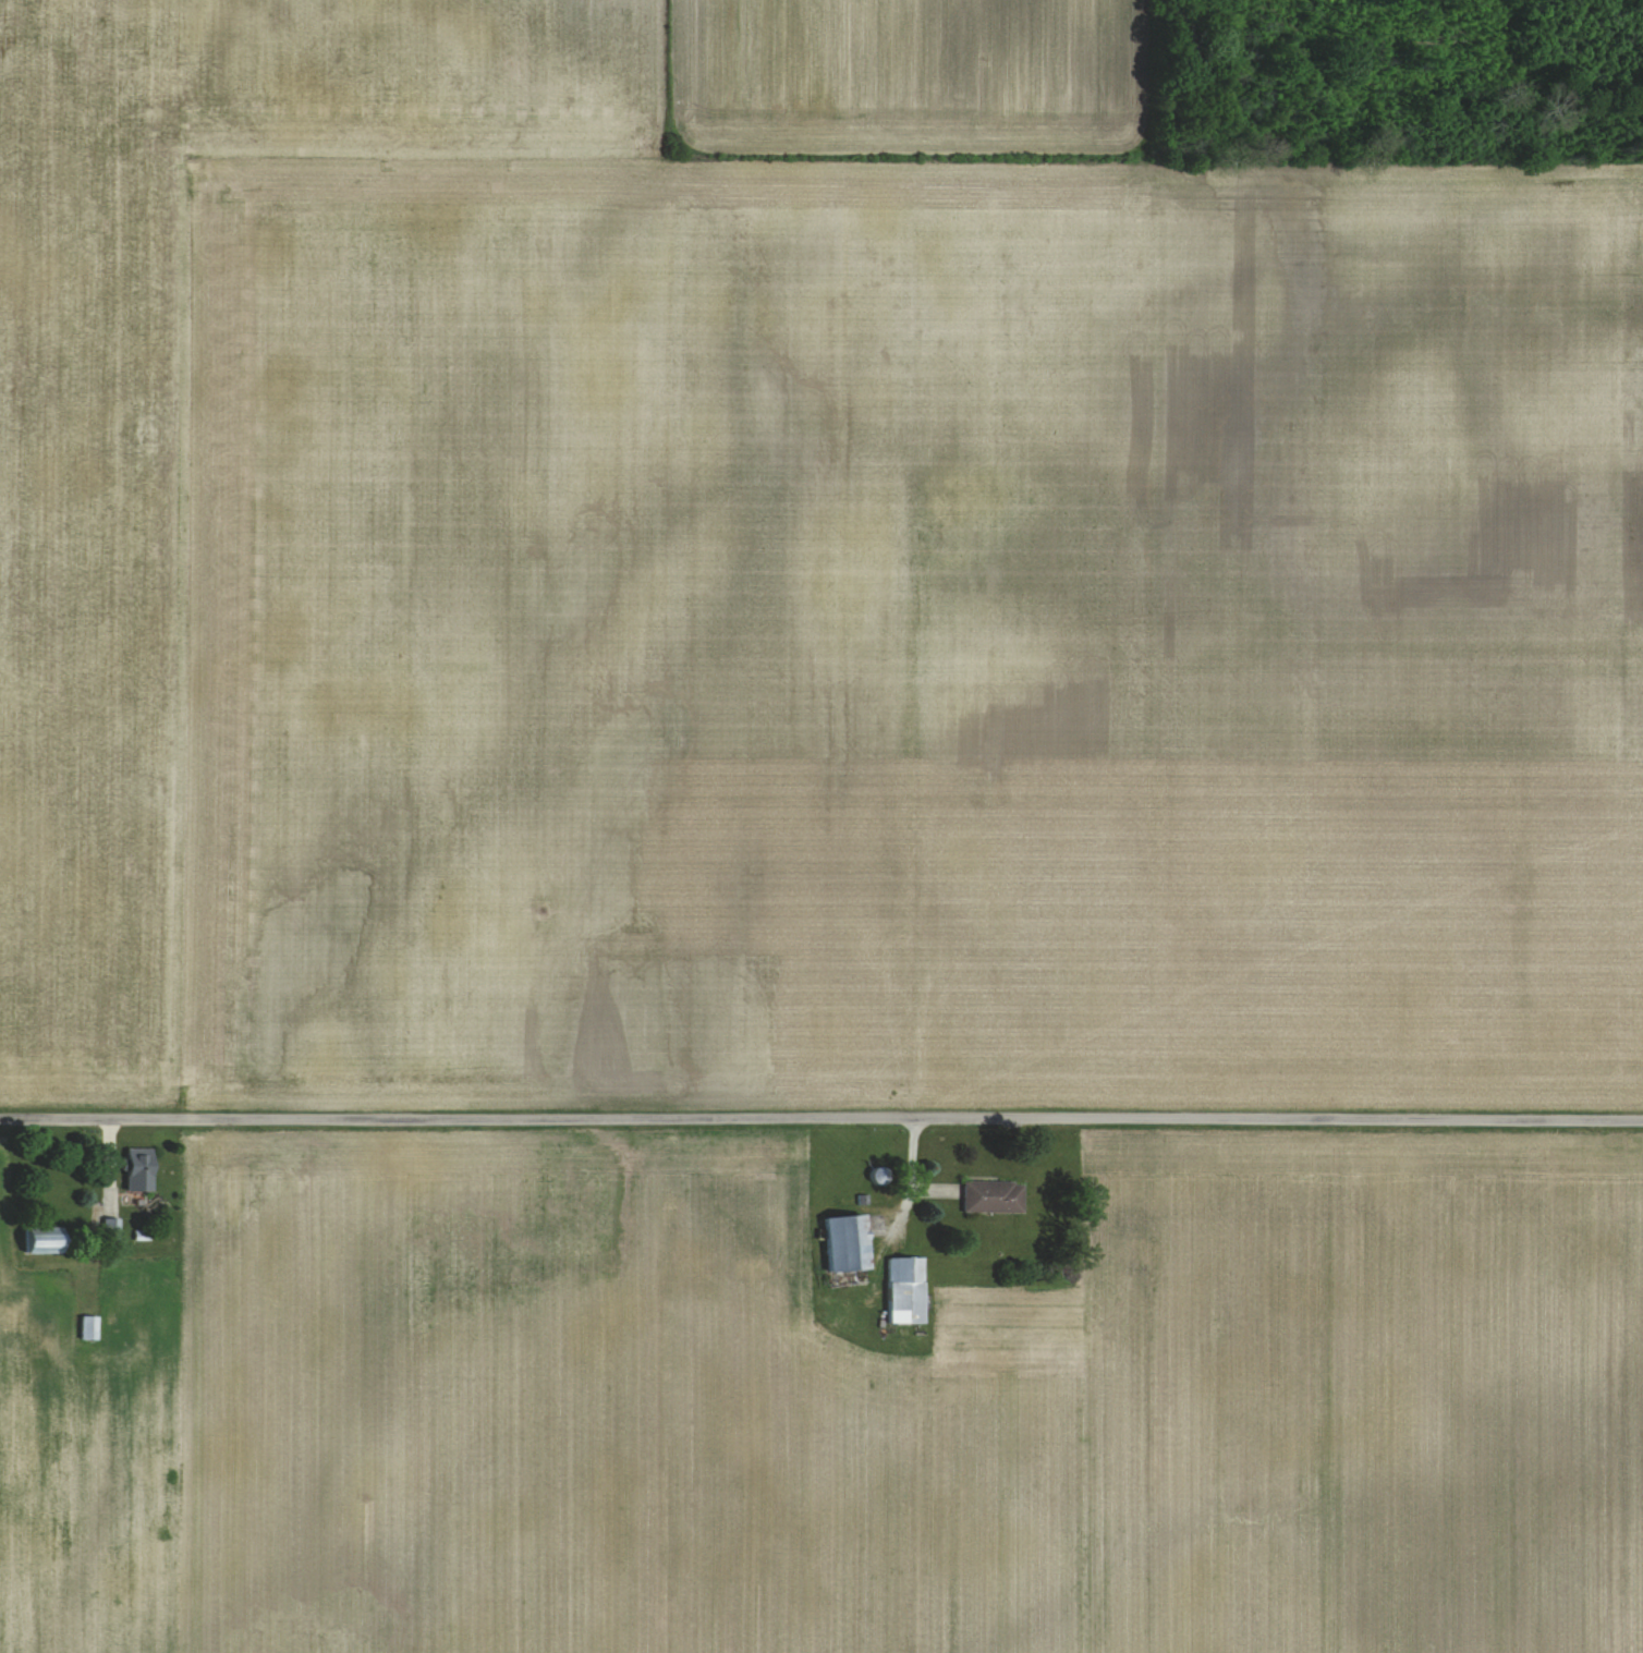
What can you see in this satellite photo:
road: (821, 1118)
building: (138, 1170)
building: (879, 1177)
building: (991, 1196)
building: (109, 1230)
building: (41, 1240)
building: (847, 1244)
building: (905, 1291)
building: (86, 1328)

